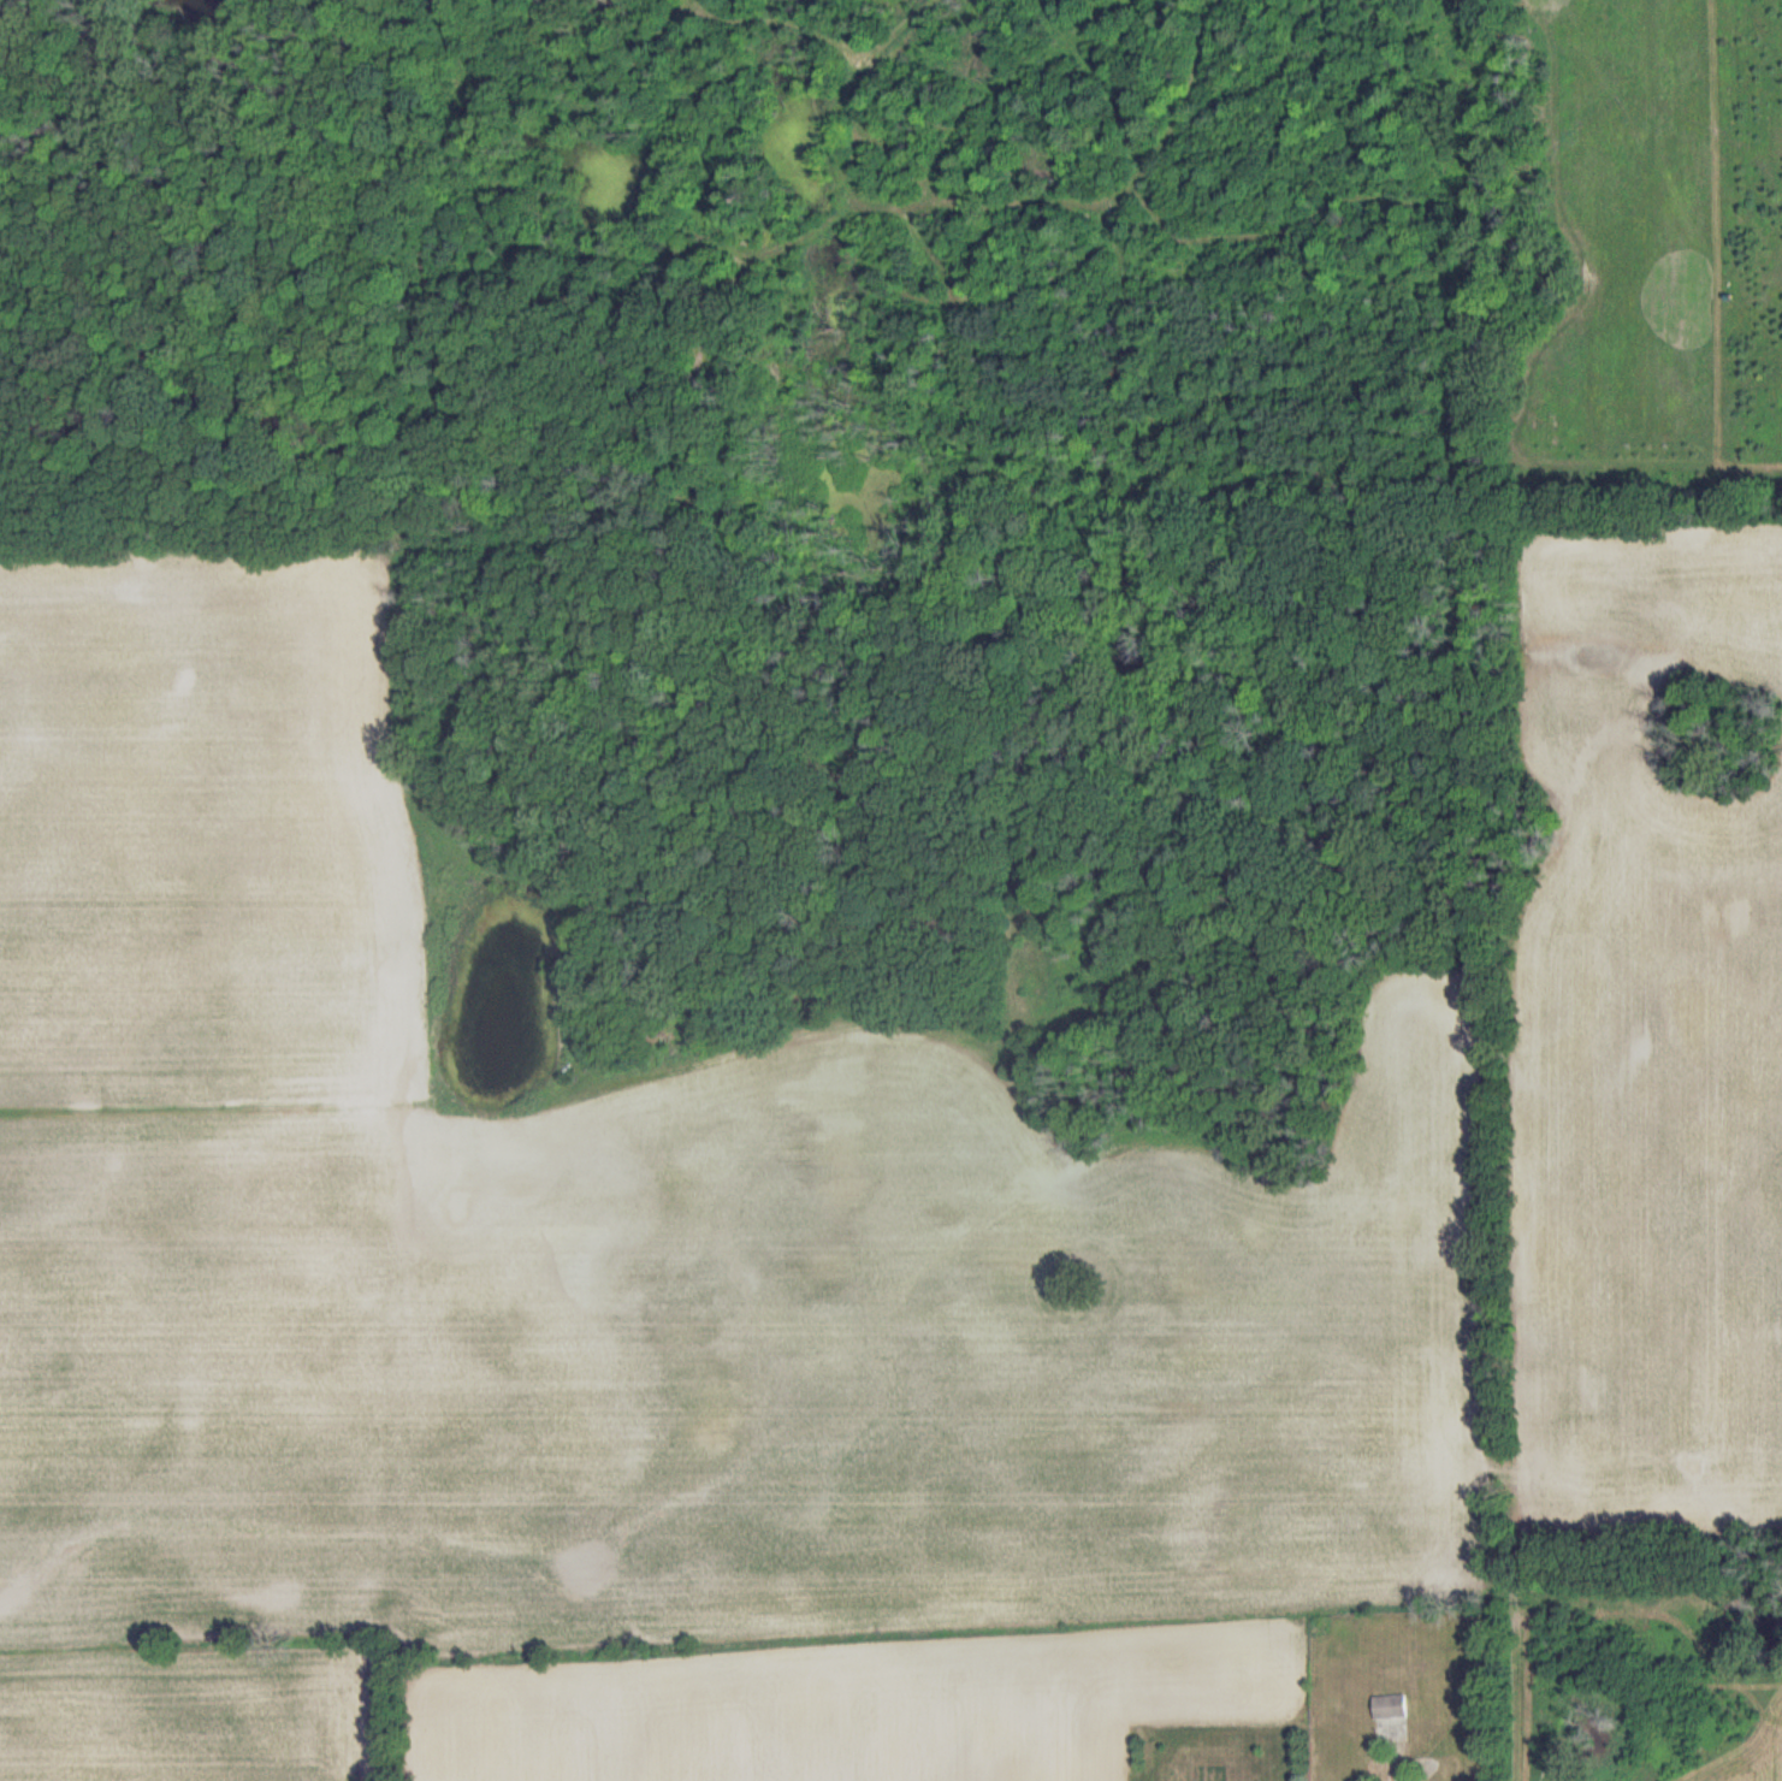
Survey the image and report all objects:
crop: (1648, 761)
building: (1390, 1709)

